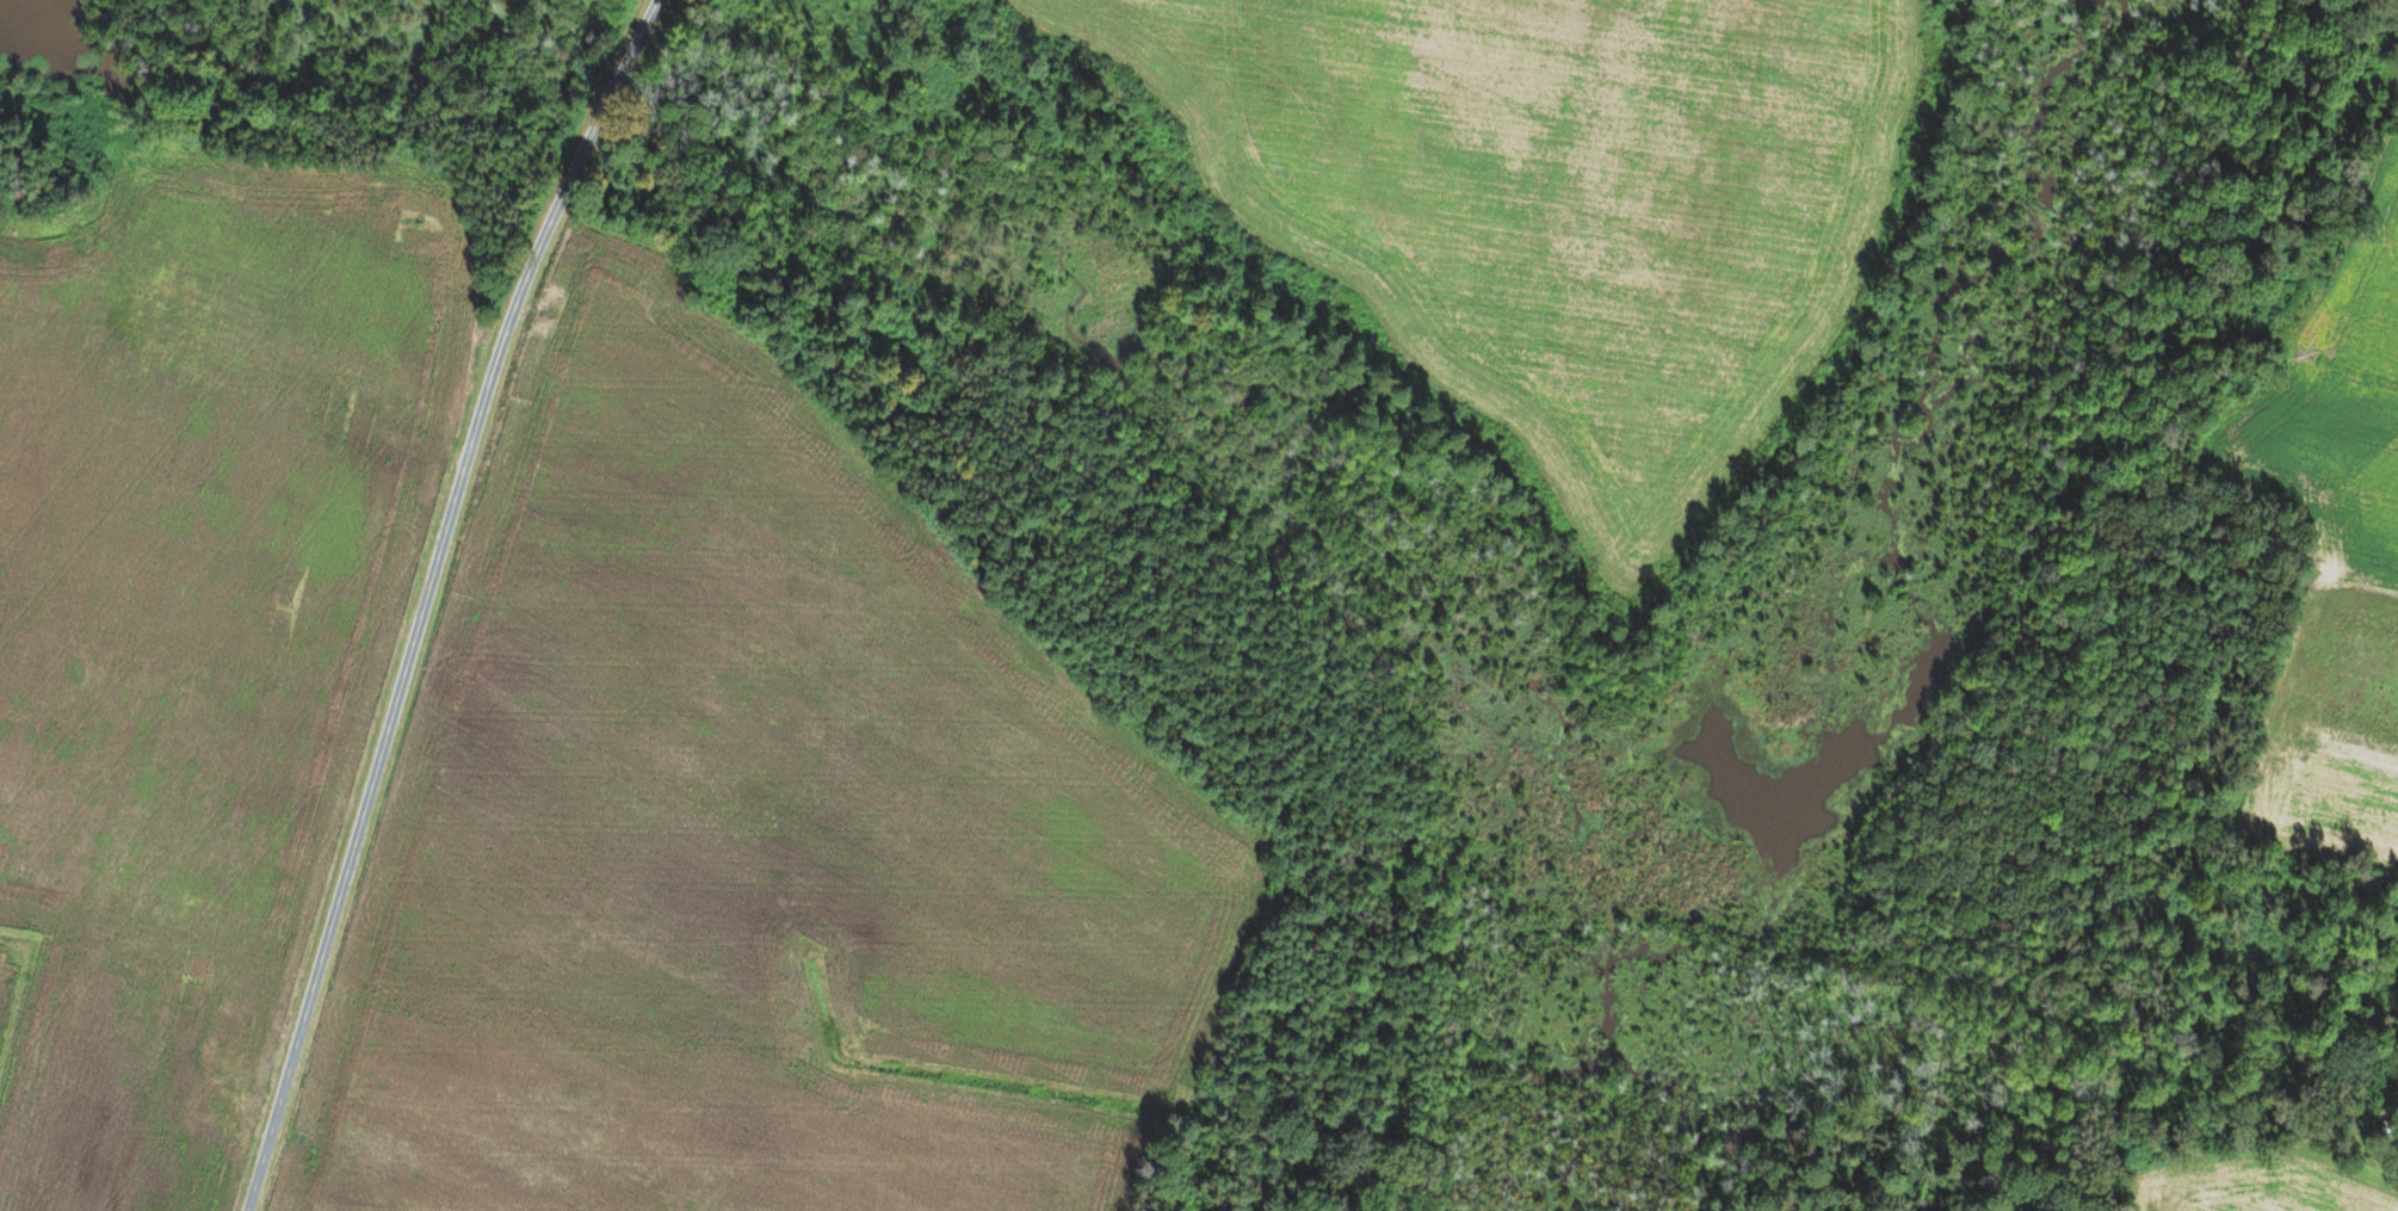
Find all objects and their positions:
road: (425, 595)

